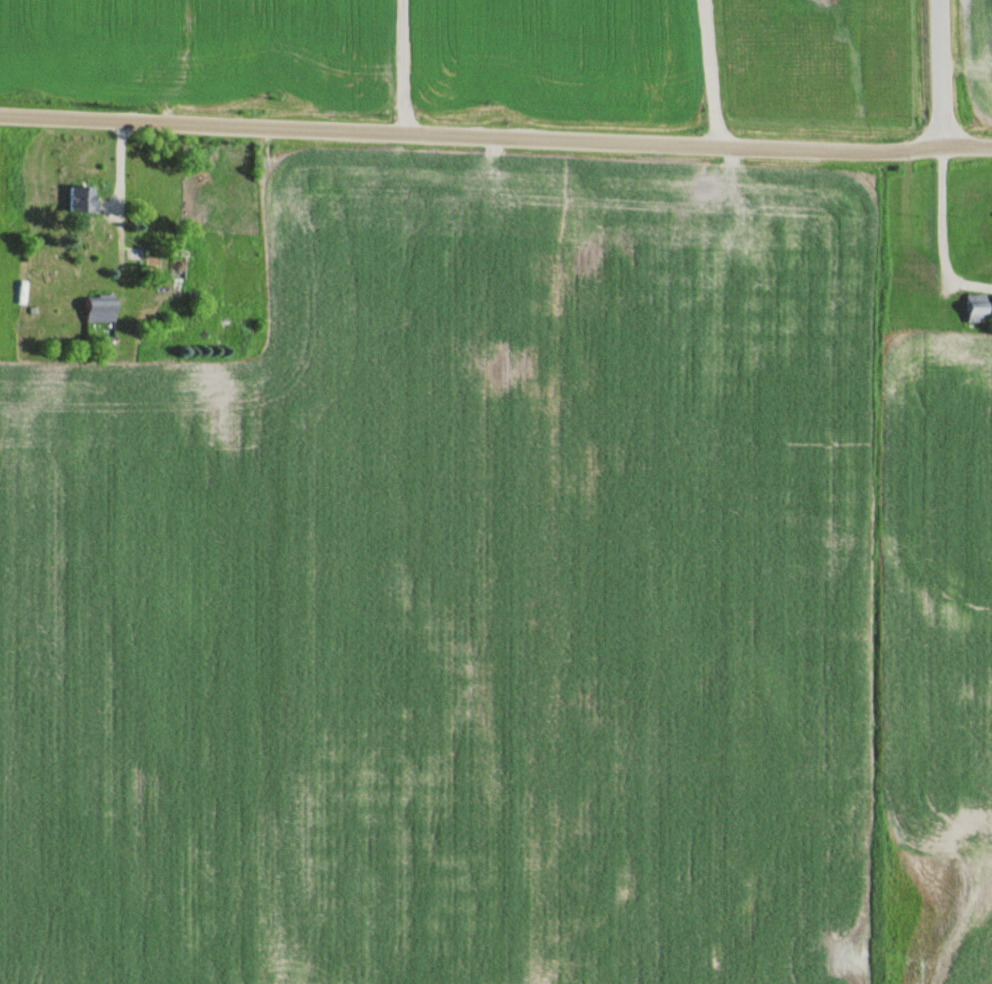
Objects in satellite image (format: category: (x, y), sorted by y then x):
road: (943, 74)
road: (495, 139)
building: (85, 200)
building: (911, 306)
building: (103, 308)
building: (980, 308)
building: (959, 346)

